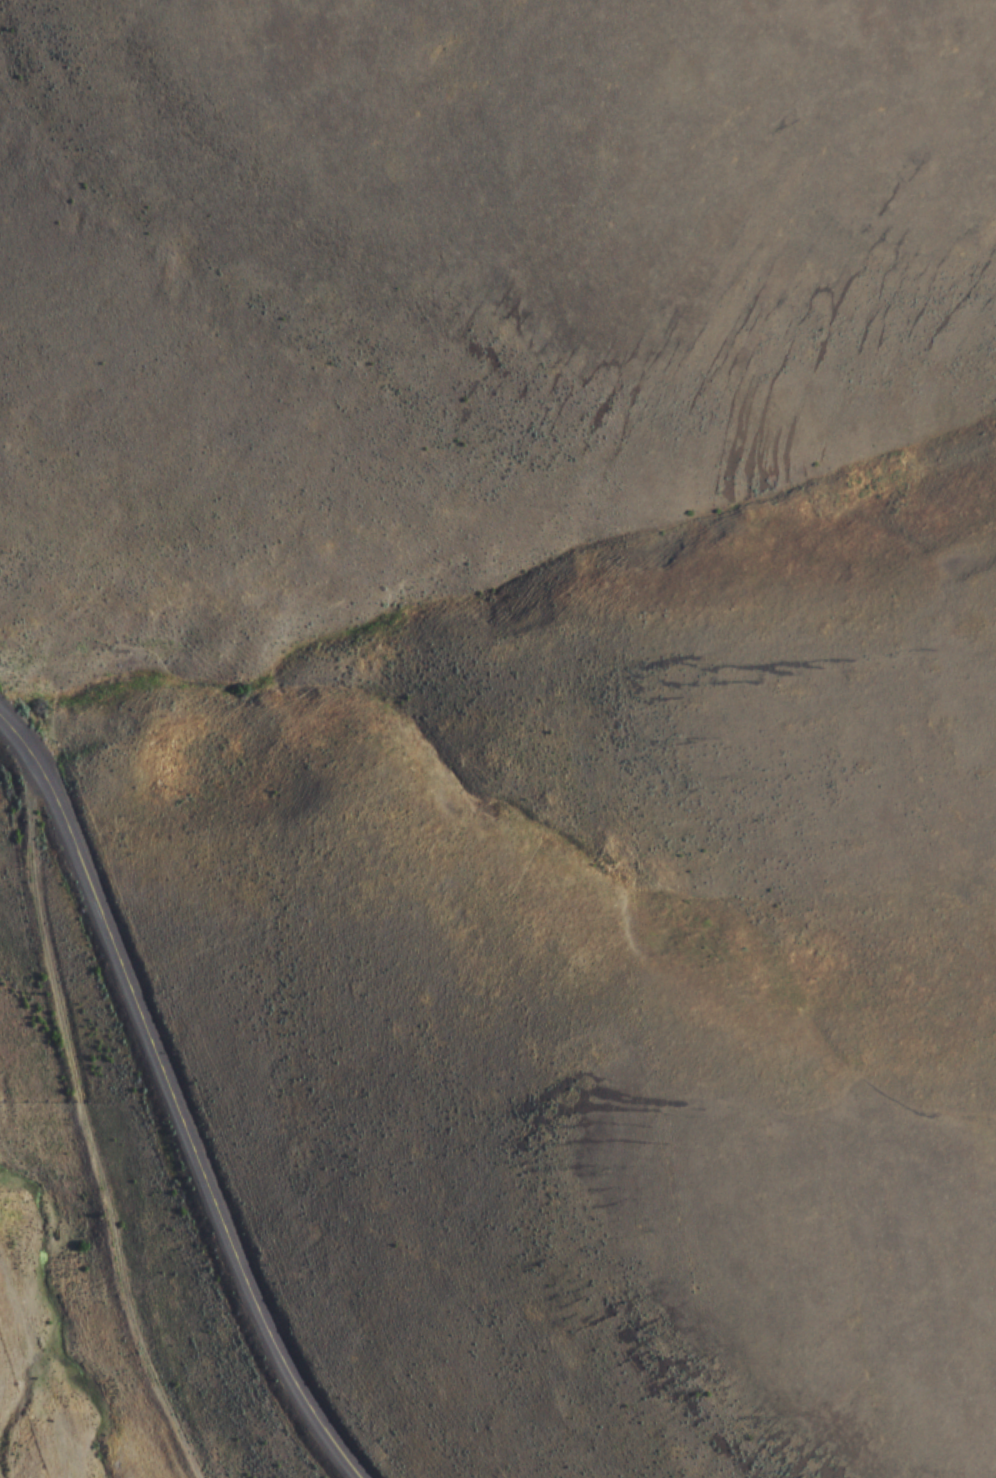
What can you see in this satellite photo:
road: (171, 1100)
road: (84, 1130)

